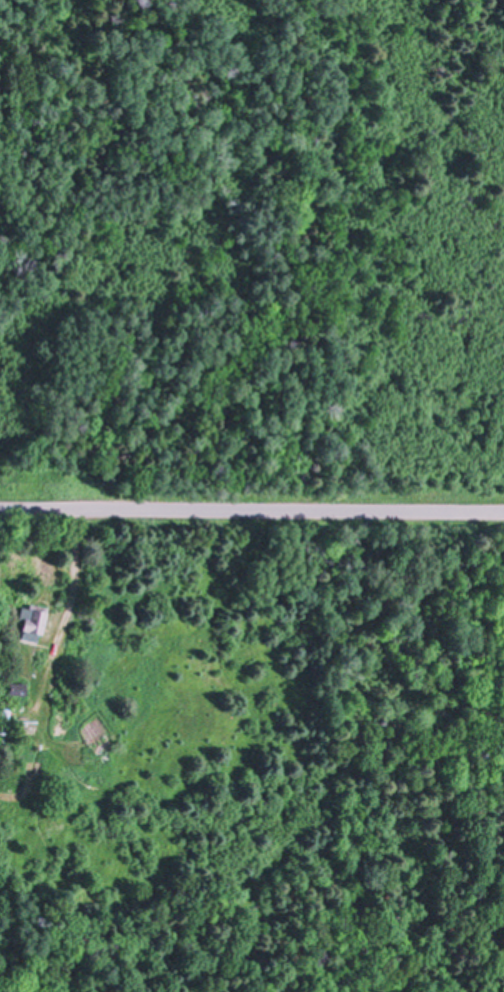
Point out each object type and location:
road: (252, 508)
road: (77, 576)
building: (31, 622)
building: (17, 689)
building: (4, 722)

